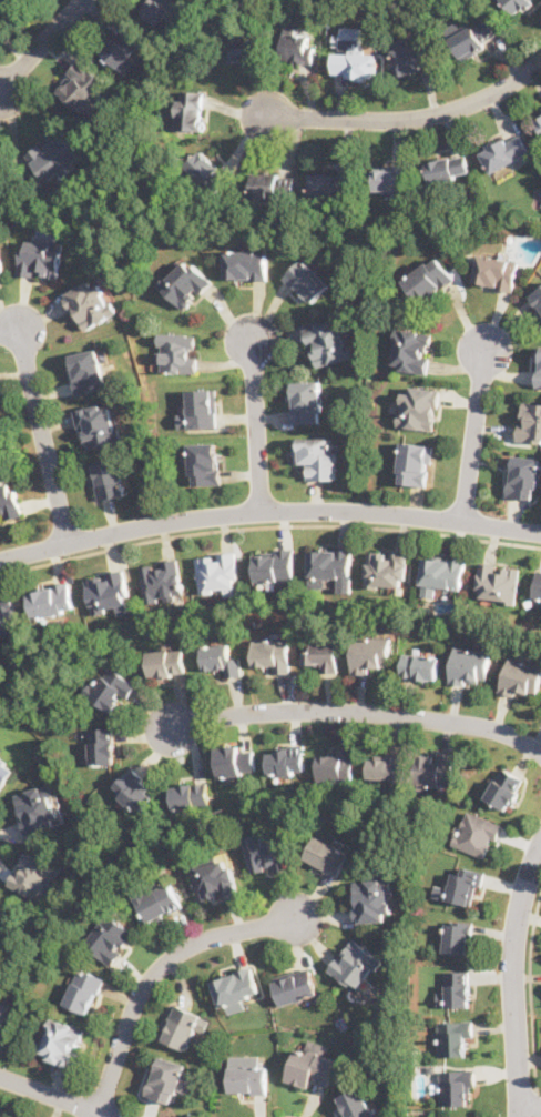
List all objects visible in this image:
building: (14, 2)
building: (518, 4)
building: (156, 9)
building: (474, 37)
road: (39, 44)
building: (119, 44)
building: (241, 46)
building: (295, 47)
building: (414, 57)
building: (355, 64)
building: (81, 85)
building: (192, 108)
road: (405, 117)
building: (538, 119)
building: (504, 150)
building: (57, 158)
building: (448, 167)
building: (208, 171)
building: (390, 177)
building: (331, 184)
building: (274, 185)
building: (40, 256)
building: (246, 264)
building: (1, 266)
building: (496, 271)
building: (428, 278)
building: (307, 279)
building: (187, 283)
building: (537, 296)
building: (91, 302)
building: (328, 341)
building: (412, 350)
building: (177, 352)
building: (538, 366)
building: (88, 370)
building: (308, 400)
building: (420, 406)
building: (201, 407)
road: (257, 421)
building: (530, 421)
road: (41, 424)
building: (98, 424)
road: (474, 430)
building: (317, 455)
building: (415, 462)
building: (206, 463)
building: (110, 477)
building: (524, 477)
building: (9, 500)
road: (268, 510)
road: (268, 523)
building: (275, 564)
building: (331, 565)
building: (388, 566)
building: (218, 573)
building: (440, 573)
building: (162, 581)
building: (498, 581)
building: (538, 586)
building: (110, 592)
building: (52, 598)
building: (9, 615)
building: (273, 653)
building: (323, 654)
building: (371, 654)
building: (222, 658)
building: (166, 661)
building: (419, 665)
building: (470, 665)
building: (521, 676)
building: (111, 691)
road: (354, 710)
building: (102, 745)
building: (236, 759)
building: (286, 759)
building: (336, 764)
building: (385, 765)
building: (435, 767)
building: (6, 772)
building: (504, 787)
building: (135, 788)
building: (191, 795)
building: (40, 807)
building: (478, 833)
building: (267, 851)
building: (327, 855)
building: (35, 876)
building: (215, 878)
building: (462, 885)
building: (374, 899)
building: (160, 903)
building: (0, 920)
building: (458, 936)
building: (112, 939)
building: (356, 964)
road: (156, 969)
road: (514, 977)
building: (296, 984)
building: (458, 987)
building: (235, 988)
building: (84, 989)
road: (530, 992)
building: (6, 1015)
building: (181, 1026)
building: (456, 1037)
building: (62, 1040)
building: (312, 1065)
building: (248, 1074)
building: (167, 1078)
building: (457, 1086)
road: (57, 1096)
building: (356, 1103)
road: (537, 1104)
road: (530, 1106)

